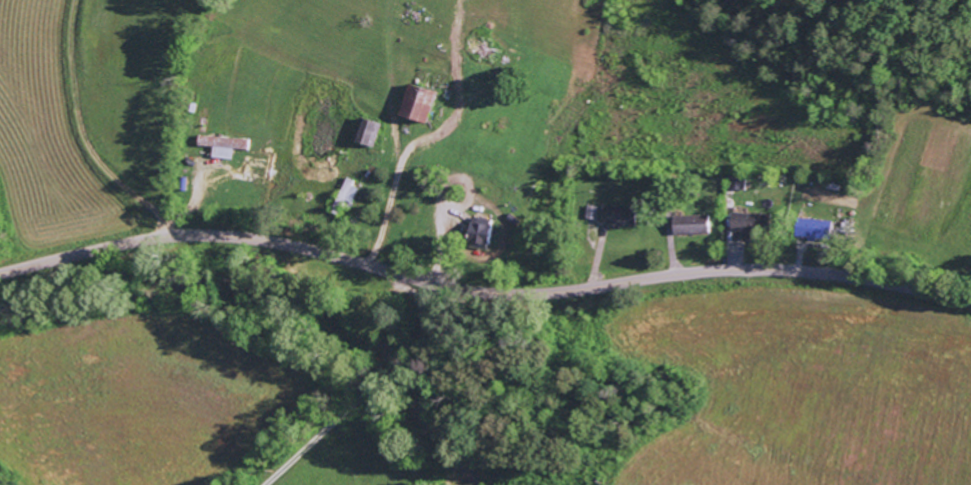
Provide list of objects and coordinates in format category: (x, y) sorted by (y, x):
building: (420, 104)
building: (223, 146)
building: (738, 182)
building: (348, 193)
building: (692, 225)
building: (752, 225)
building: (815, 230)
road: (172, 231)
building: (484, 233)
road: (482, 291)
road: (371, 386)

